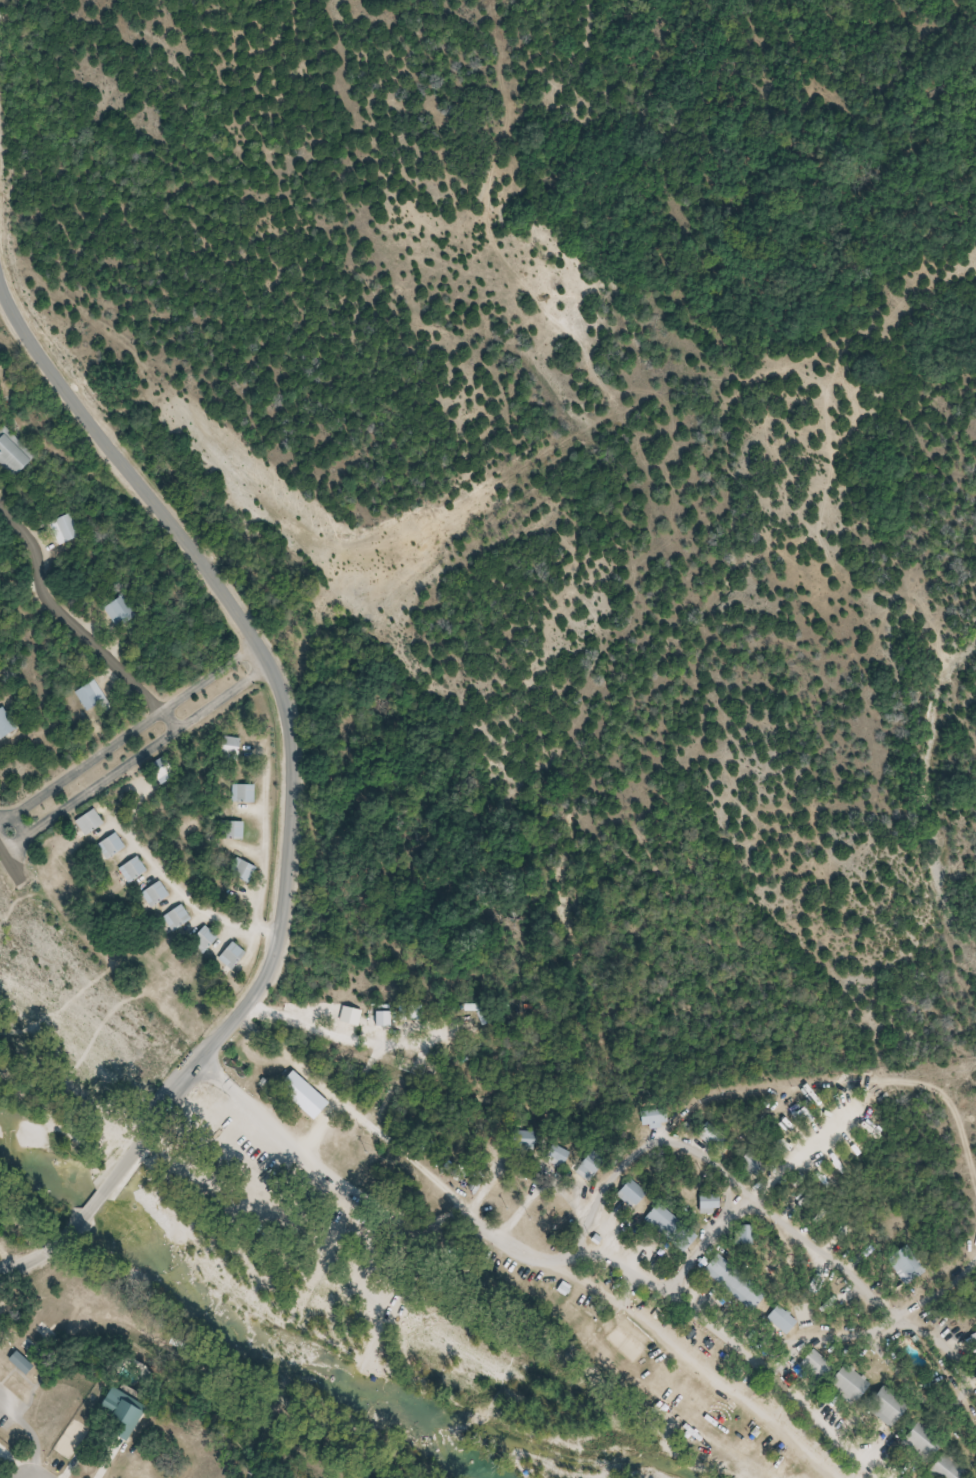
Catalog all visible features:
building: (14, 453)
building: (64, 529)
building: (119, 611)
road: (64, 619)
road: (239, 656)
road: (252, 673)
building: (92, 695)
road: (295, 709)
road: (172, 719)
building: (6, 724)
building: (227, 748)
road: (108, 750)
road: (121, 769)
building: (160, 771)
building: (241, 793)
building: (86, 822)
building: (230, 830)
building: (108, 846)
road: (15, 856)
building: (130, 870)
building: (239, 870)
building: (152, 894)
road: (189, 900)
building: (174, 917)
building: (200, 939)
building: (228, 955)
building: (299, 1095)
building: (652, 1117)
building: (711, 1138)
building: (554, 1155)
building: (752, 1161)
building: (586, 1166)
building: (629, 1192)
road: (93, 1202)
building: (705, 1204)
building: (668, 1228)
building: (743, 1235)
road: (524, 1249)
road: (49, 1251)
building: (903, 1264)
building: (732, 1282)
river: (235, 1311)
building: (779, 1320)
road: (858, 1334)
building: (973, 1340)
building: (25, 1363)
building: (813, 1366)
building: (846, 1383)
building: (885, 1405)
building: (921, 1438)
building: (944, 1467)

